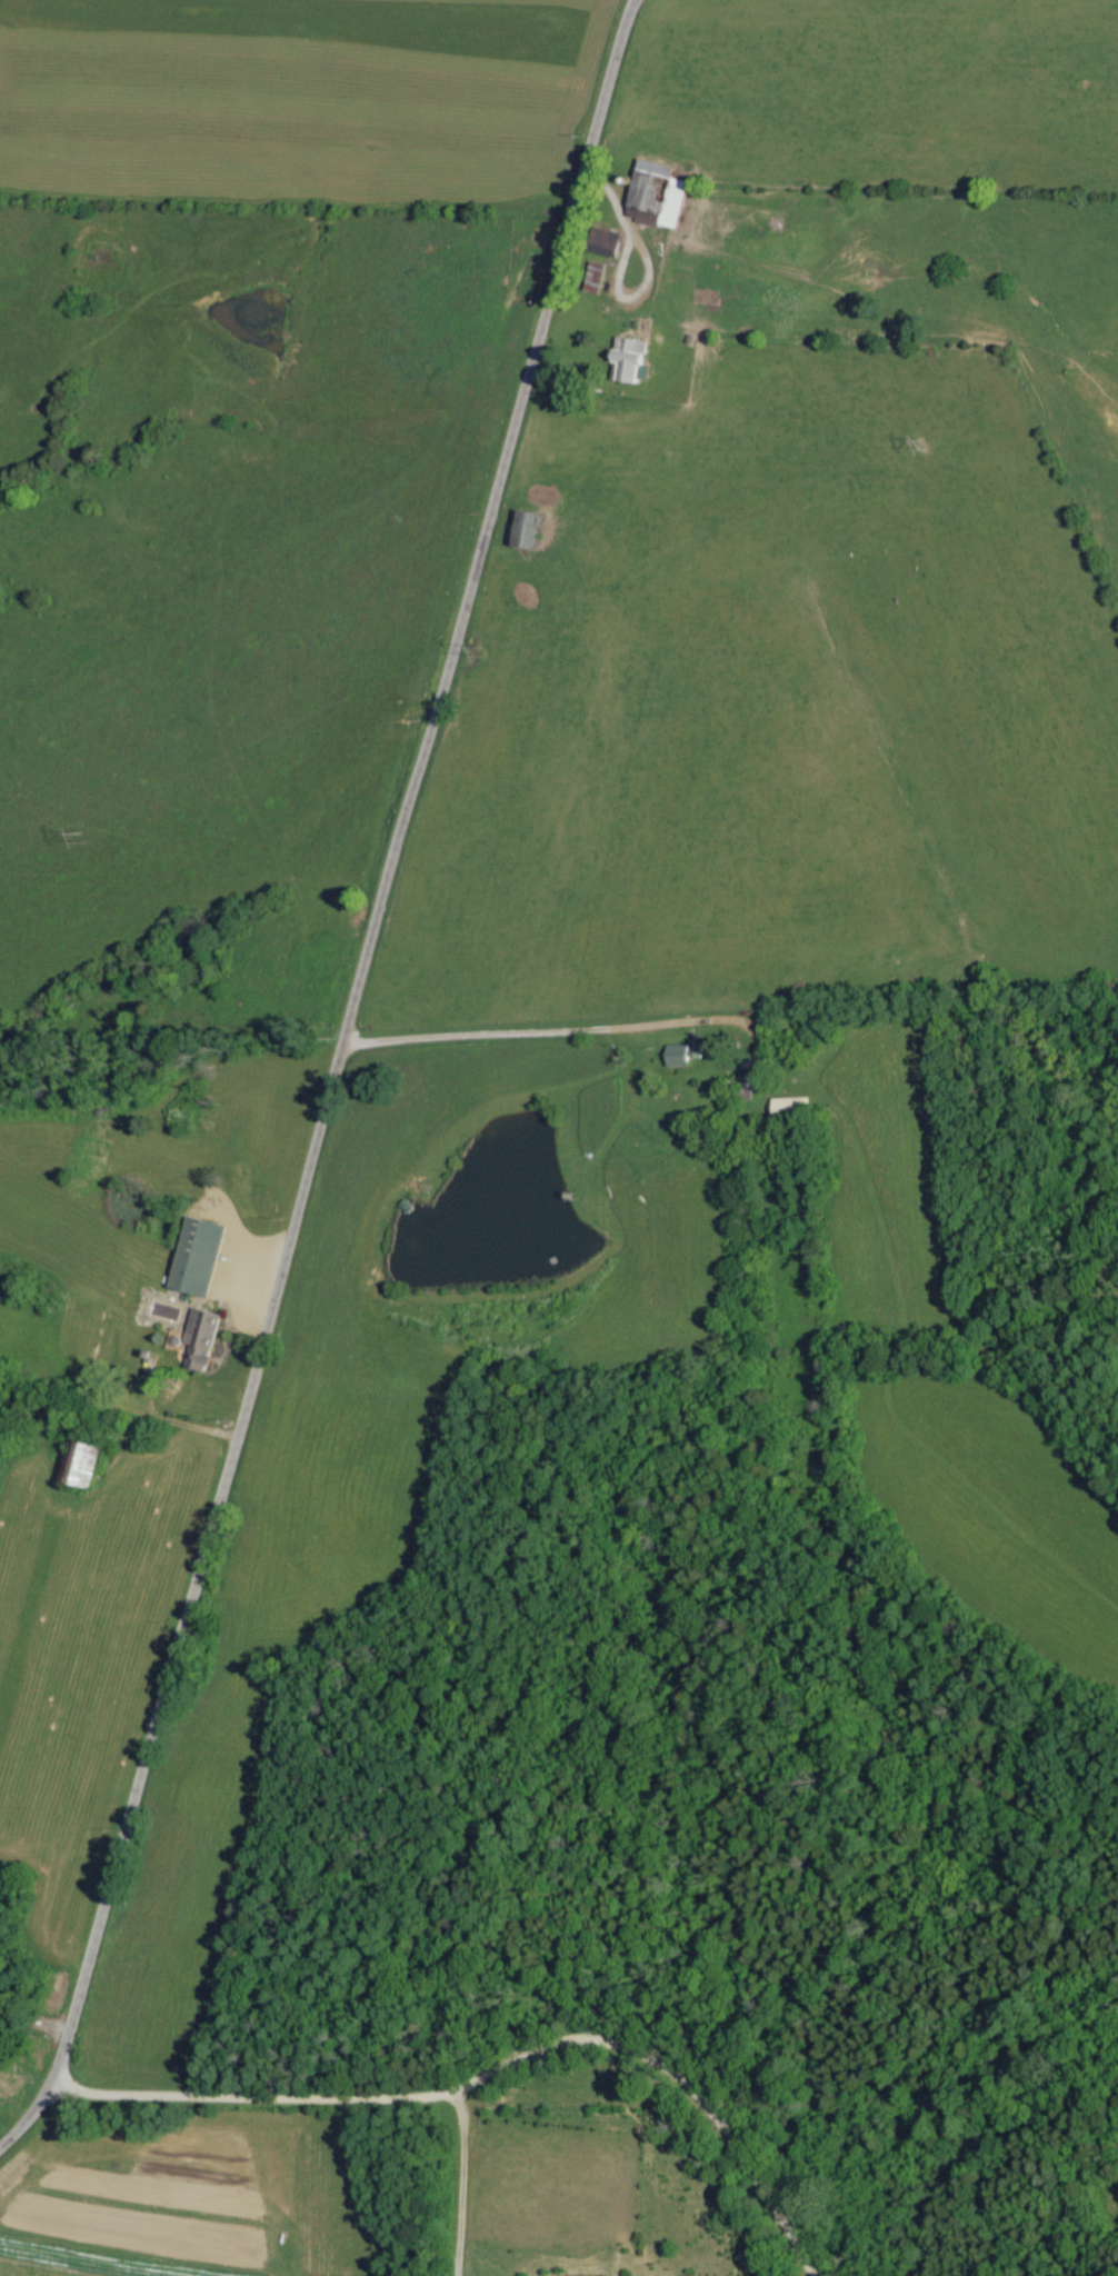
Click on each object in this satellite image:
building: (658, 200)
road: (648, 266)
building: (633, 361)
power tower: (925, 448)
building: (530, 532)
power tower: (476, 651)
power tower: (81, 836)
road: (569, 1035)
building: (678, 1057)
road: (332, 1081)
building: (790, 1107)
building: (198, 1258)
building: (201, 1339)
road: (172, 1427)
building: (89, 1465)
road: (495, 2073)
road: (459, 2183)

